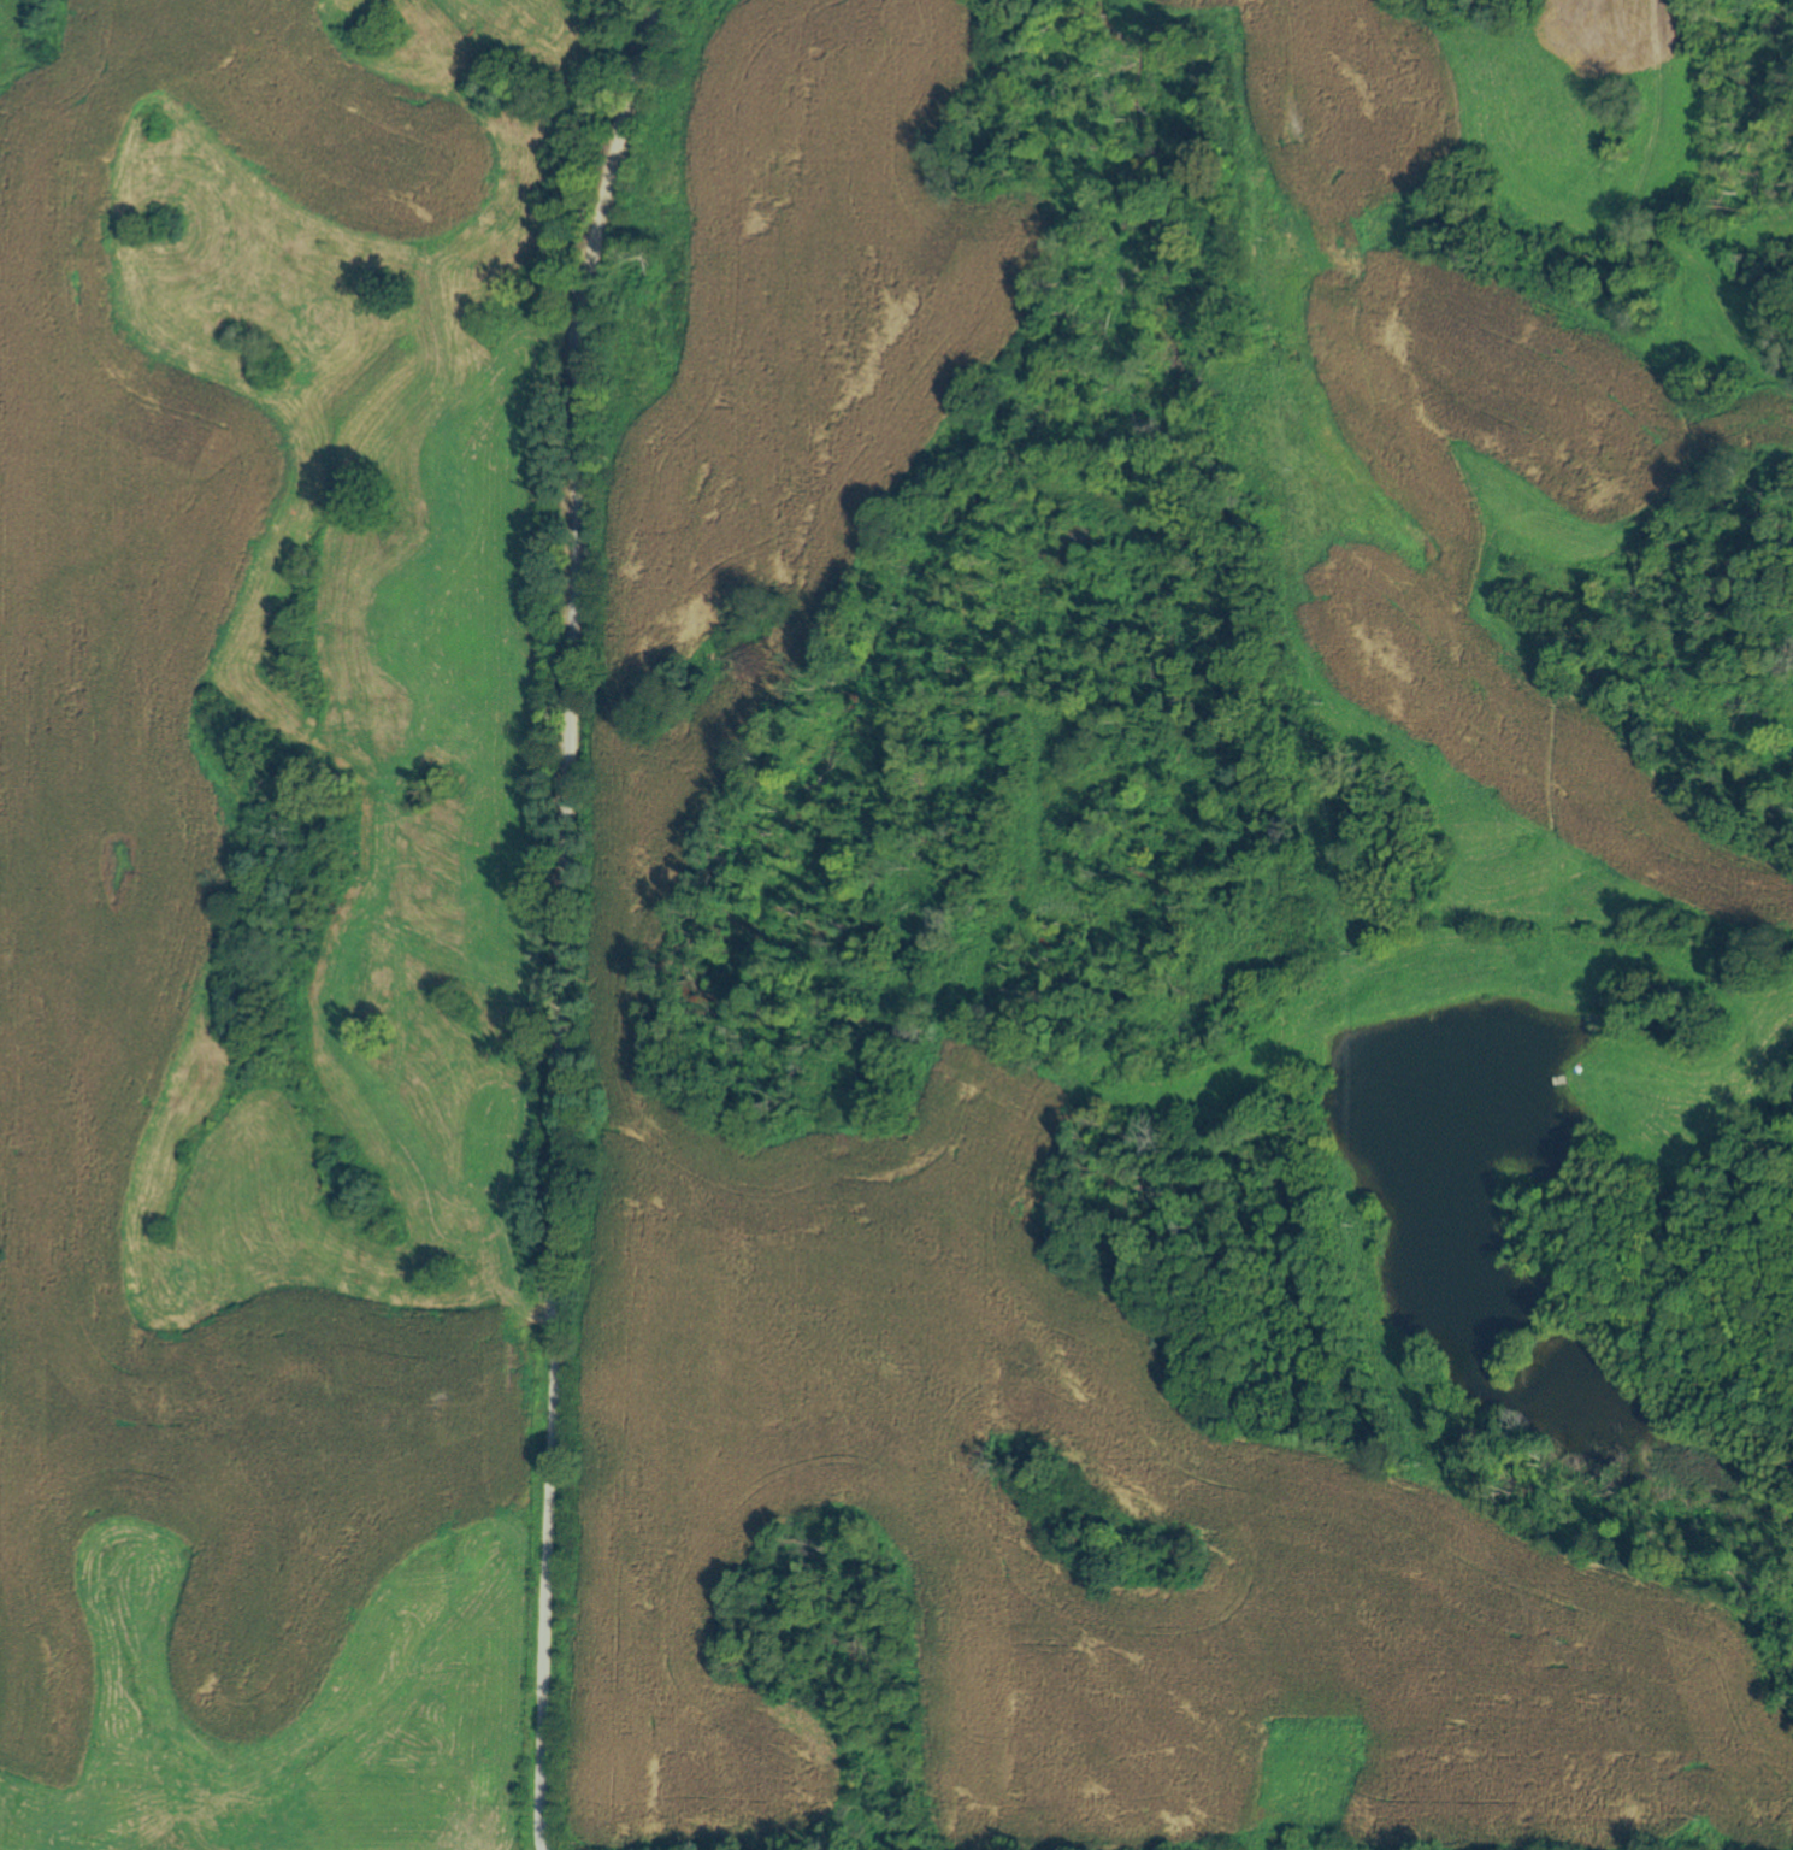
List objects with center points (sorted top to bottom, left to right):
road: (564, 921)

